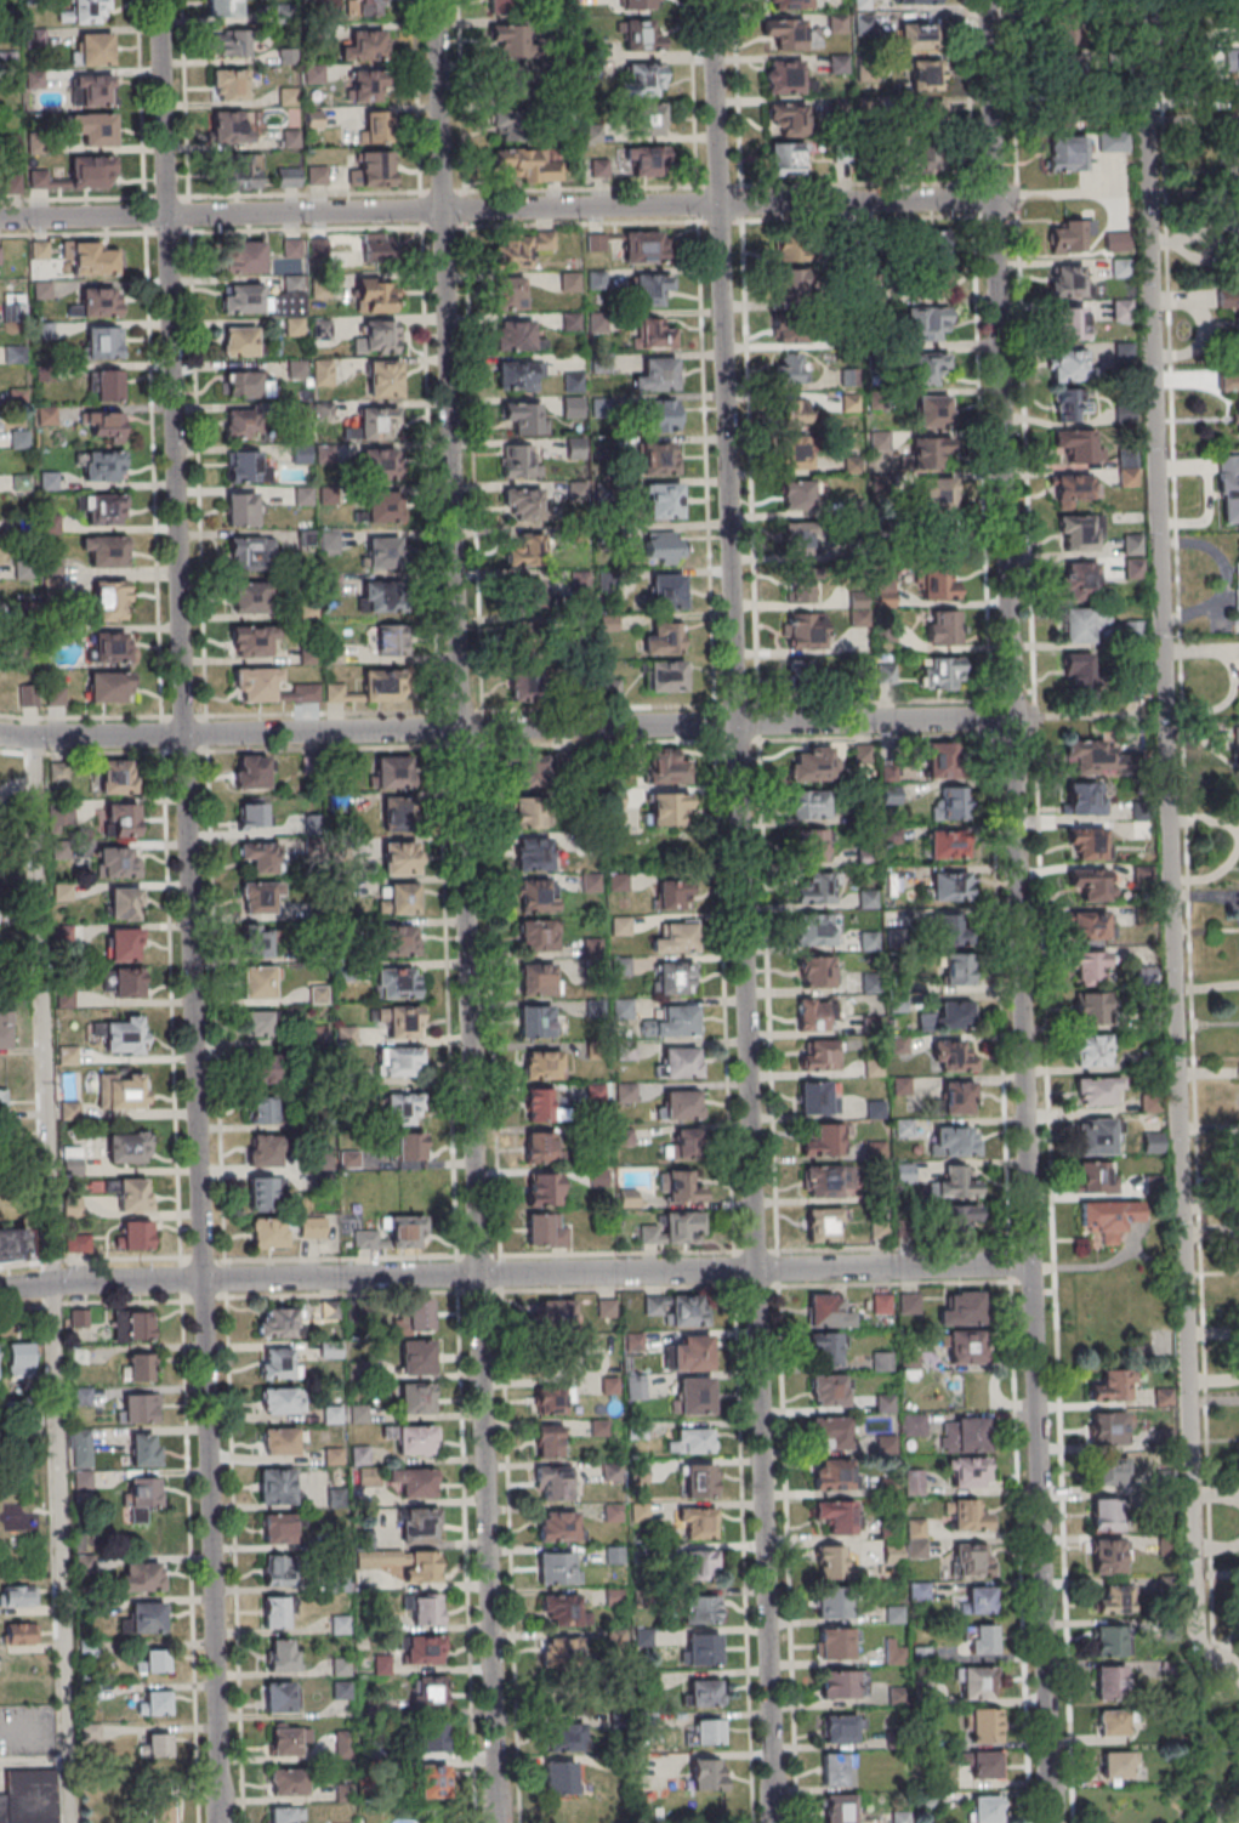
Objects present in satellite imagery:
building: (916, 1)
building: (1076, 1)
building: (638, 4)
building: (789, 4)
building: (1234, 4)
building: (227, 7)
building: (368, 7)
building: (86, 12)
building: (791, 33)
building: (642, 34)
building: (917, 35)
building: (35, 38)
building: (231, 42)
building: (523, 44)
building: (365, 46)
building: (92, 47)
building: (1229, 61)
building: (1074, 69)
building: (925, 74)
building: (789, 78)
building: (1238, 78)
building: (642, 80)
building: (229, 84)
building: (365, 86)
building: (1237, 89)
building: (92, 90)
road: (968, 92)
building: (288, 96)
building: (928, 115)
building: (786, 117)
building: (648, 119)
road: (1190, 119)
building: (231, 126)
building: (376, 126)
building: (93, 127)
building: (292, 138)
building: (1237, 146)
building: (1069, 151)
building: (786, 158)
building: (646, 160)
building: (527, 163)
building: (376, 169)
building: (239, 171)
building: (81, 174)
building: (317, 175)
building: (288, 176)
building: (1238, 178)
road: (1053, 194)
road: (972, 200)
road: (496, 206)
building: (1233, 226)
building: (1072, 237)
building: (292, 246)
building: (524, 246)
building: (643, 246)
building: (376, 248)
building: (784, 249)
building: (616, 251)
building: (0, 255)
building: (243, 256)
building: (91, 259)
building: (1069, 280)
building: (569, 282)
building: (789, 284)
building: (652, 289)
building: (511, 293)
building: (376, 295)
building: (258, 300)
building: (97, 301)
building: (15, 305)
building: (1229, 307)
building: (1121, 309)
building: (927, 322)
building: (1070, 324)
building: (794, 330)
building: (657, 333)
building: (381, 335)
building: (513, 335)
building: (240, 340)
building: (102, 342)
road: (999, 359)
building: (1067, 364)
building: (930, 367)
building: (789, 369)
building: (521, 375)
building: (657, 375)
building: (383, 377)
building: (574, 382)
building: (108, 385)
building: (246, 385)
building: (1235, 403)
building: (1068, 404)
building: (573, 405)
building: (933, 409)
building: (794, 414)
building: (663, 415)
building: (524, 418)
building: (241, 426)
building: (379, 426)
building: (104, 427)
building: (18, 439)
building: (1079, 445)
building: (933, 452)
building: (794, 453)
building: (659, 458)
road: (979, 459)
building: (518, 460)
building: (102, 465)
building: (381, 465)
building: (250, 466)
building: (1129, 468)
building: (1076, 488)
building: (1229, 489)
building: (797, 494)
building: (937, 498)
building: (663, 500)
building: (523, 504)
building: (104, 509)
building: (240, 509)
building: (383, 509)
building: (1076, 533)
building: (800, 540)
building: (942, 544)
building: (663, 547)
building: (524, 549)
building: (106, 550)
building: (382, 551)
building: (250, 552)
building: (1081, 580)
building: (944, 583)
building: (801, 585)
building: (524, 590)
building: (666, 590)
building: (1238, 596)
building: (248, 597)
building: (383, 598)
building: (110, 600)
building: (857, 600)
building: (1084, 623)
building: (942, 626)
building: (806, 630)
building: (664, 637)
building: (527, 638)
building: (391, 640)
building: (249, 641)
building: (113, 646)
building: (886, 672)
building: (940, 672)
building: (1082, 672)
building: (667, 675)
building: (802, 677)
building: (383, 685)
building: (528, 685)
building: (109, 687)
building: (269, 687)
building: (335, 693)
road: (1073, 717)
road: (990, 719)
road: (505, 728)
building: (1085, 756)
building: (945, 759)
building: (811, 765)
building: (533, 768)
building: (667, 769)
building: (252, 772)
building: (391, 772)
building: (116, 776)
building: (1085, 797)
building: (950, 802)
building: (809, 803)
building: (666, 808)
building: (530, 811)
building: (399, 812)
building: (252, 814)
building: (61, 817)
building: (121, 819)
road: (186, 841)
building: (1090, 842)
building: (948, 844)
building: (811, 845)
road: (1167, 846)
building: (533, 853)
building: (260, 857)
building: (399, 857)
building: (118, 861)
building: (1091, 882)
building: (950, 885)
building: (815, 887)
building: (63, 891)
building: (674, 895)
building: (539, 896)
building: (399, 897)
building: (258, 898)
building: (124, 903)
road: (465, 911)
road: (741, 911)
building: (620, 925)
building: (1090, 925)
building: (817, 928)
building: (956, 930)
building: (540, 935)
building: (676, 938)
building: (397, 939)
building: (124, 943)
building: (258, 943)
building: (1089, 964)
building: (623, 966)
building: (956, 967)
building: (815, 971)
building: (674, 977)
building: (539, 979)
building: (397, 982)
building: (127, 983)
building: (256, 984)
building: (626, 1007)
building: (1091, 1007)
building: (817, 1013)
building: (951, 1013)
building: (535, 1021)
building: (404, 1022)
building: (674, 1022)
building: (257, 1024)
building: (6, 1029)
building: (123, 1034)
building: (1091, 1050)
building: (819, 1054)
building: (951, 1056)
building: (399, 1061)
building: (680, 1062)
building: (544, 1063)
building: (265, 1064)
building: (1098, 1089)
building: (124, 1090)
building: (627, 1092)
building: (818, 1097)
building: (957, 1097)
building: (2, 1101)
building: (682, 1103)
building: (540, 1104)
building: (262, 1108)
building: (403, 1108)
building: (1097, 1136)
building: (955, 1140)
building: (823, 1141)
building: (687, 1142)
building: (1152, 1142)
building: (410, 1146)
building: (127, 1147)
building: (542, 1147)
building: (263, 1149)
building: (73, 1160)
building: (1098, 1177)
building: (822, 1181)
building: (956, 1181)
building: (684, 1186)
building: (542, 1188)
building: (262, 1193)
building: (132, 1194)
building: (965, 1217)
building: (1109, 1217)
building: (823, 1225)
building: (683, 1226)
building: (545, 1231)
building: (392, 1233)
building: (135, 1234)
building: (269, 1234)
building: (78, 1242)
building: (12, 1248)
road: (1029, 1271)
road: (513, 1273)
road: (1007, 1278)
road: (49, 1279)
building: (882, 1302)
building: (909, 1302)
building: (606, 1307)
building: (680, 1308)
building: (962, 1308)
building: (829, 1310)
building: (556, 1313)
building: (416, 1316)
building: (275, 1322)
building: (132, 1325)
building: (967, 1346)
building: (826, 1347)
building: (690, 1352)
building: (416, 1357)
building: (19, 1358)
building: (882, 1361)
building: (278, 1363)
building: (910, 1363)
building: (143, 1367)
building: (1113, 1385)
building: (635, 1386)
building: (829, 1390)
building: (694, 1395)
building: (416, 1397)
building: (280, 1399)
building: (552, 1399)
building: (885, 1402)
building: (141, 1408)
building: (913, 1424)
building: (1109, 1426)
building: (831, 1432)
building: (964, 1433)
building: (414, 1438)
building: (550, 1439)
building: (689, 1439)
building: (279, 1441)
building: (81, 1447)
building: (143, 1449)
building: (967, 1471)
building: (1107, 1472)
building: (834, 1475)
building: (700, 1480)
building: (413, 1481)
building: (914, 1481)
building: (555, 1482)
building: (275, 1484)
building: (144, 1489)
road: (1216, 1494)
building: (1104, 1514)
park: (23, 1515)
building: (968, 1515)
building: (839, 1516)
building: (419, 1522)
building: (697, 1522)
building: (558, 1526)
building: (277, 1528)
building: (915, 1538)
road: (1217, 1546)
building: (1109, 1555)
building: (377, 1558)
building: (973, 1558)
building: (700, 1563)
building: (835, 1563)
building: (422, 1567)
building: (557, 1567)
building: (275, 1571)
building: (141, 1575)
building: (919, 1591)
building: (17, 1595)
building: (1113, 1598)
building: (979, 1600)
building: (834, 1606)
building: (425, 1608)
building: (699, 1608)
building: (564, 1609)
building: (274, 1611)
building: (146, 1617)
building: (340, 1624)
building: (21, 1634)
building: (981, 1639)
building: (1109, 1641)
building: (836, 1642)
building: (700, 1648)
building: (425, 1649)
building: (561, 1652)
building: (282, 1654)
building: (153, 1662)
building: (977, 1682)
building: (1110, 1682)
building: (842, 1683)
building: (341, 1689)
building: (430, 1692)
building: (705, 1692)
building: (279, 1697)
building: (154, 1702)
building: (1113, 1722)
building: (983, 1725)
building: (841, 1727)
building: (707, 1731)
building: (434, 1734)
building: (565, 1736)
building: (289, 1738)
building: (343, 1743)
building: (155, 1744)
road: (217, 1753)
building: (984, 1764)
building: (1119, 1764)
building: (839, 1768)
building: (706, 1773)
building: (562, 1777)
building: (433, 1781)
building: (288, 1782)
building: (29, 1796)
building: (840, 1808)
building: (984, 1808)
building: (159, 1811)
building: (285, 1813)

